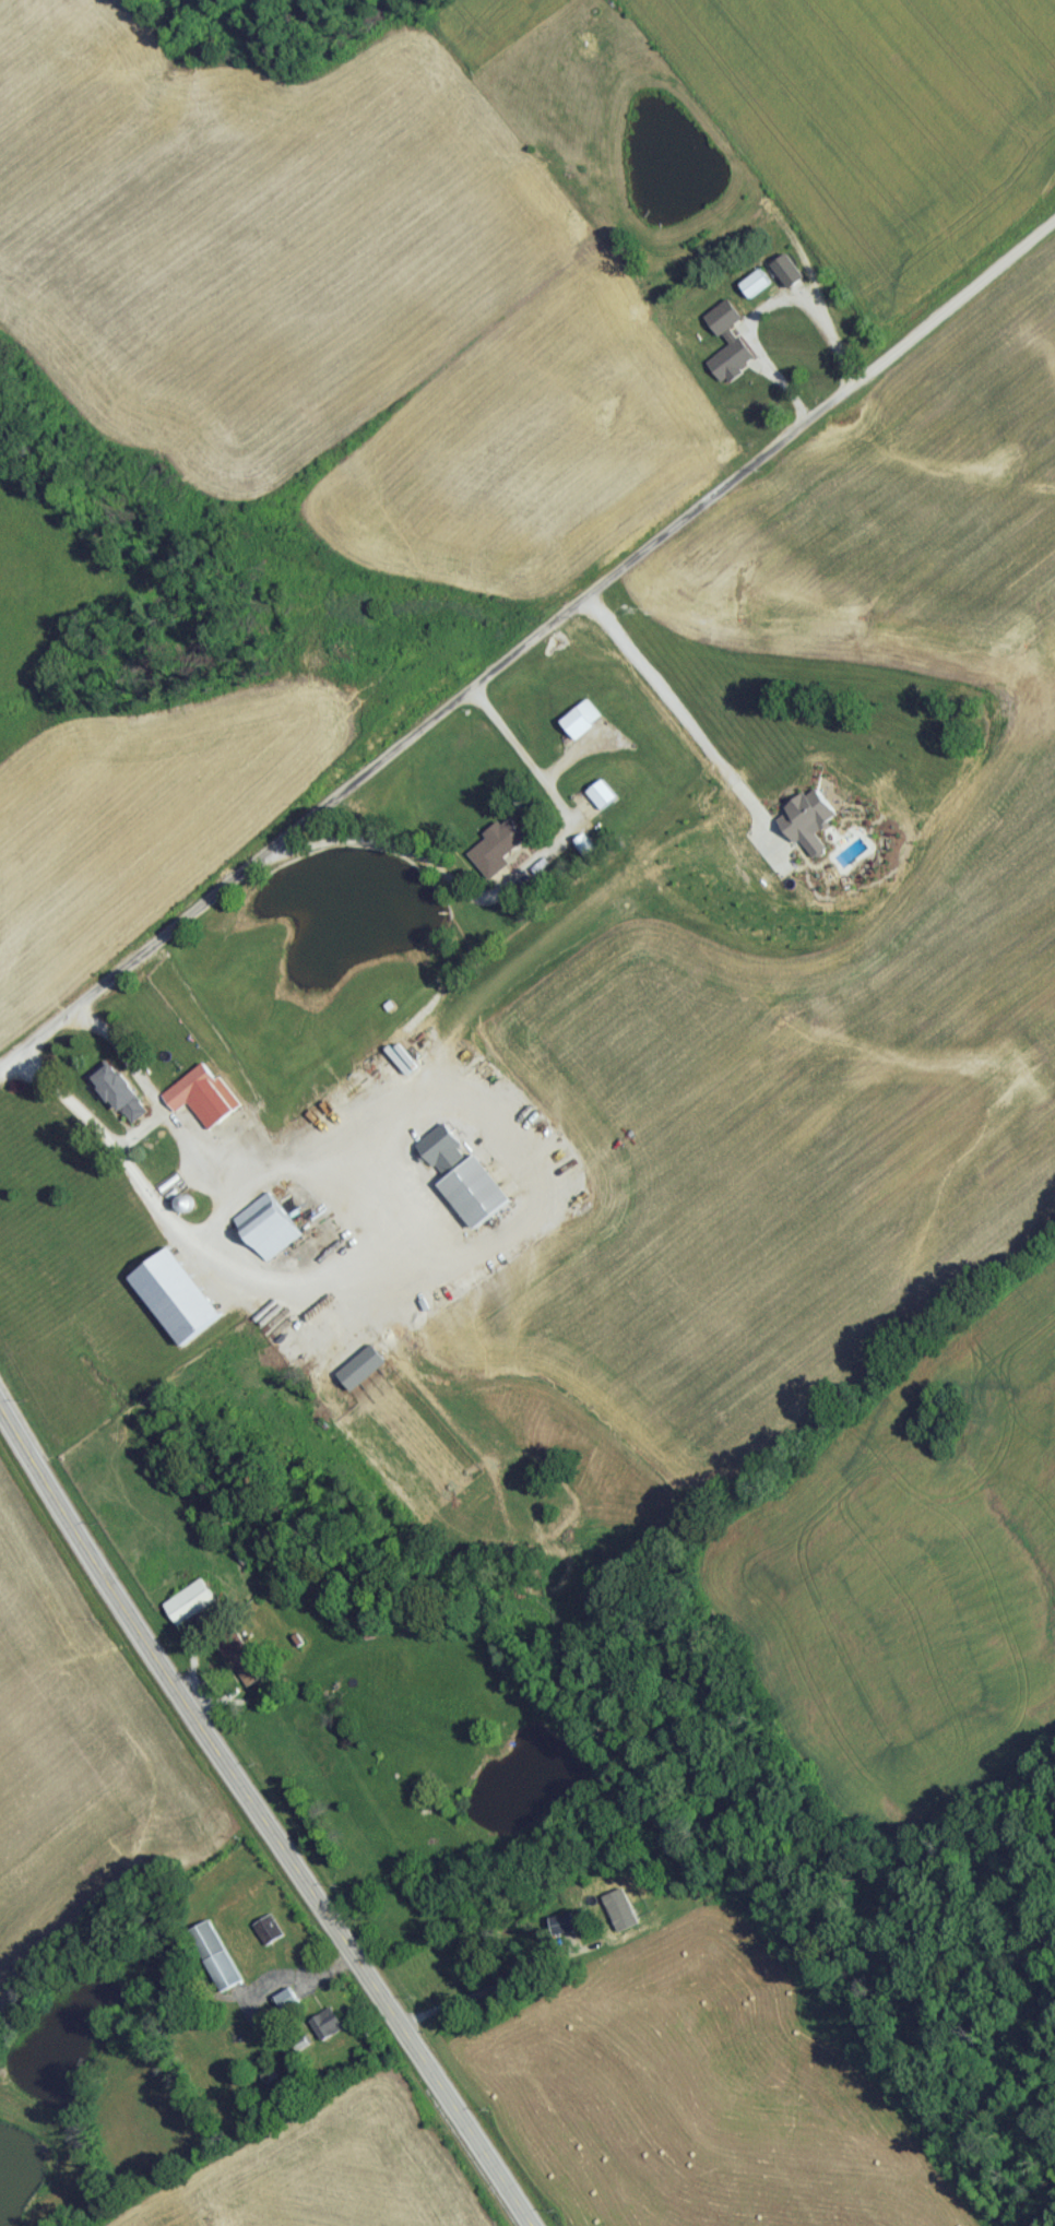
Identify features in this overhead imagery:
building: (757, 289)
building: (742, 380)
road: (527, 642)
road: (671, 704)
building: (583, 725)
building: (604, 801)
road: (501, 892)
building: (123, 1100)
building: (204, 1101)
building: (478, 1197)
road: (211, 1227)
building: (270, 1231)
building: (178, 1302)
building: (191, 1608)
road: (260, 1822)
building: (612, 1916)
building: (564, 1930)
building: (216, 1962)
road: (481, 1991)
building: (288, 2005)
building: (328, 2029)

